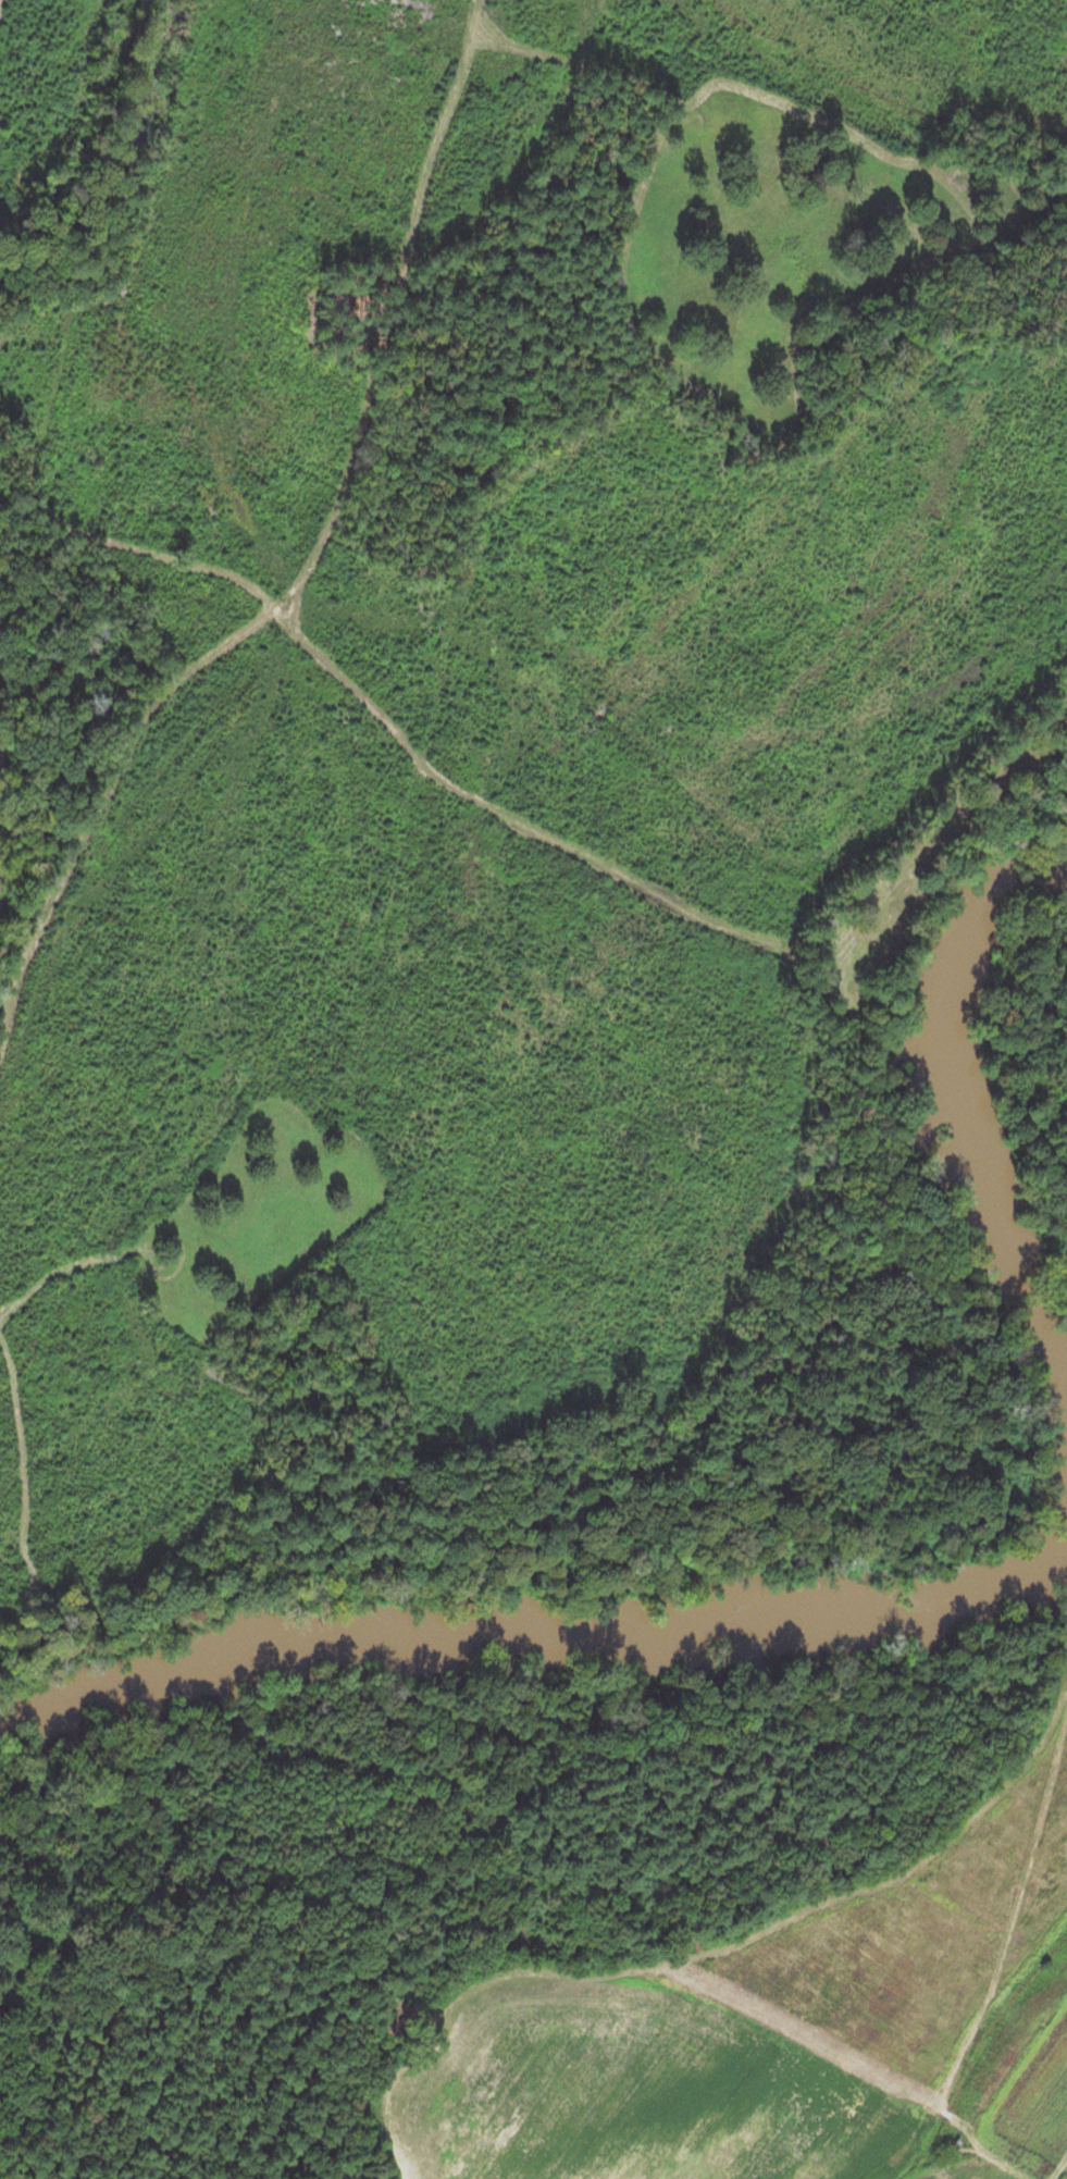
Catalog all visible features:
river: (904, 1592)

